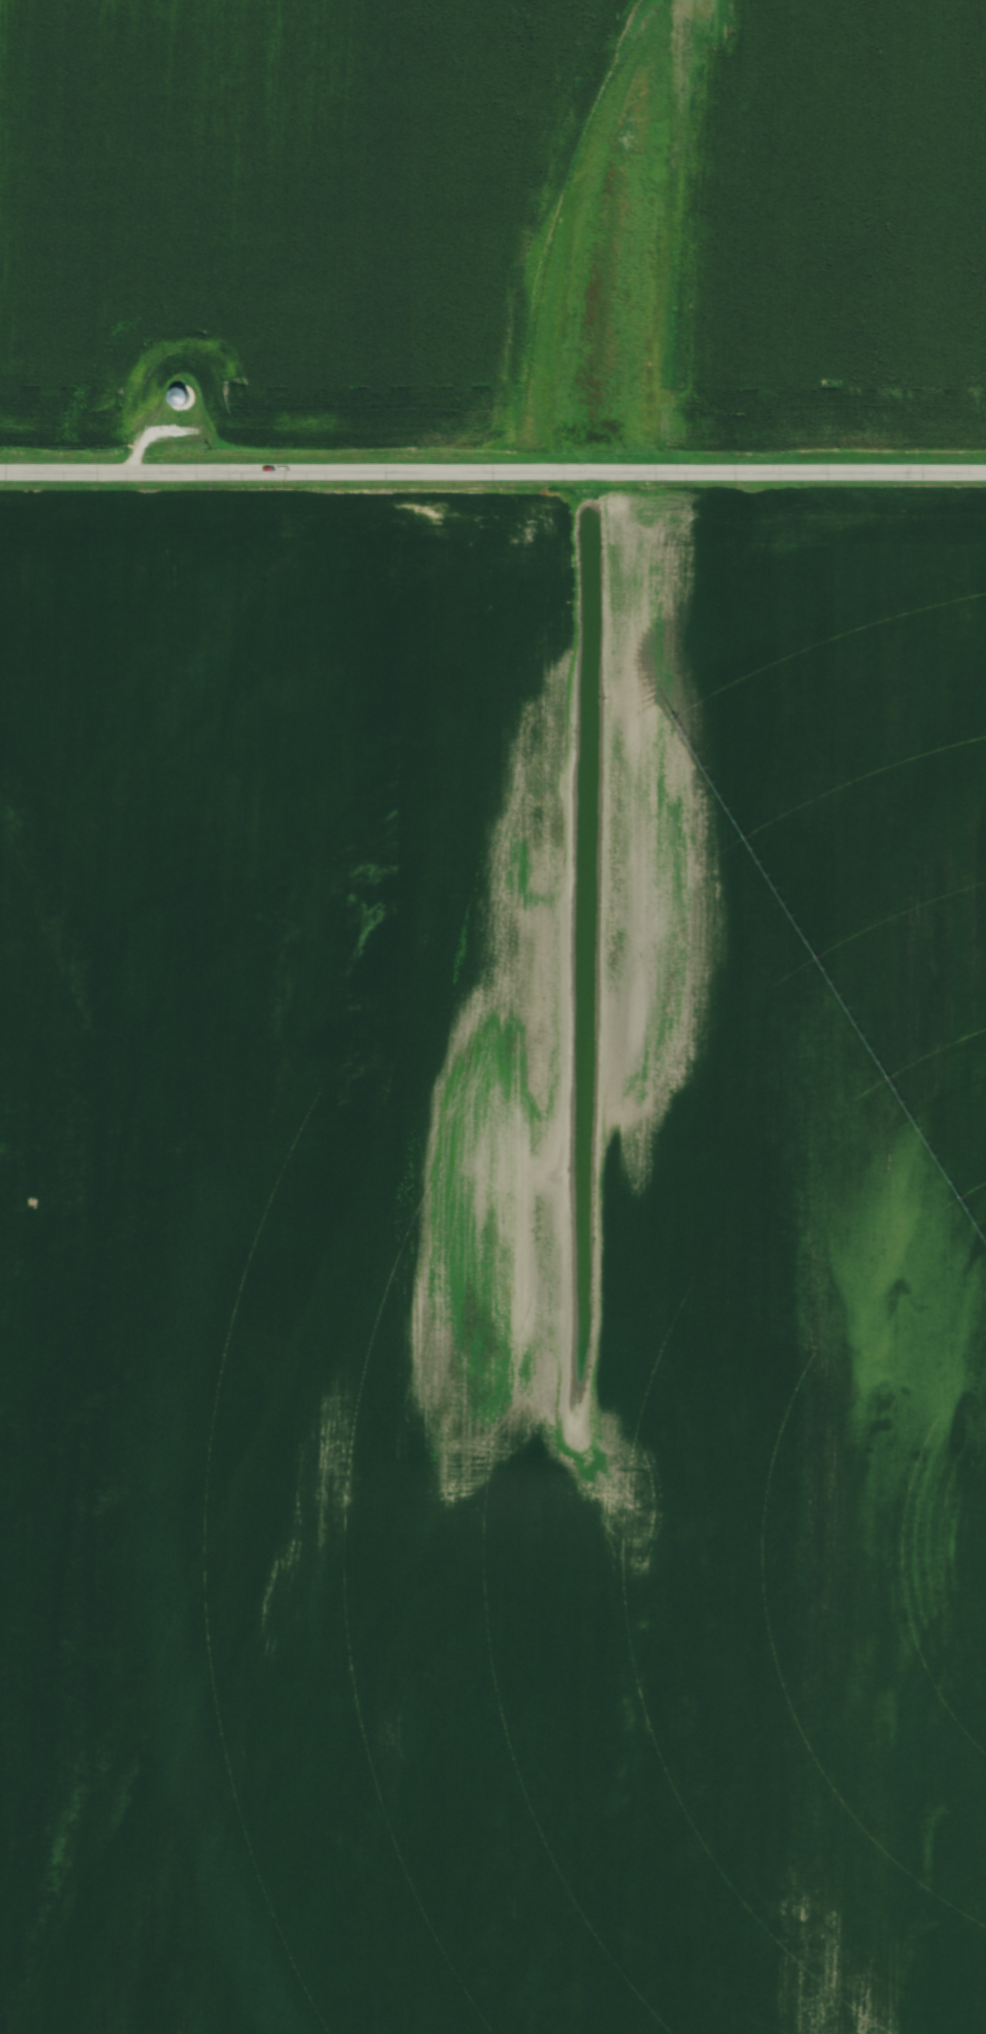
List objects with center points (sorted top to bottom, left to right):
building: (173, 395)
road: (493, 478)

